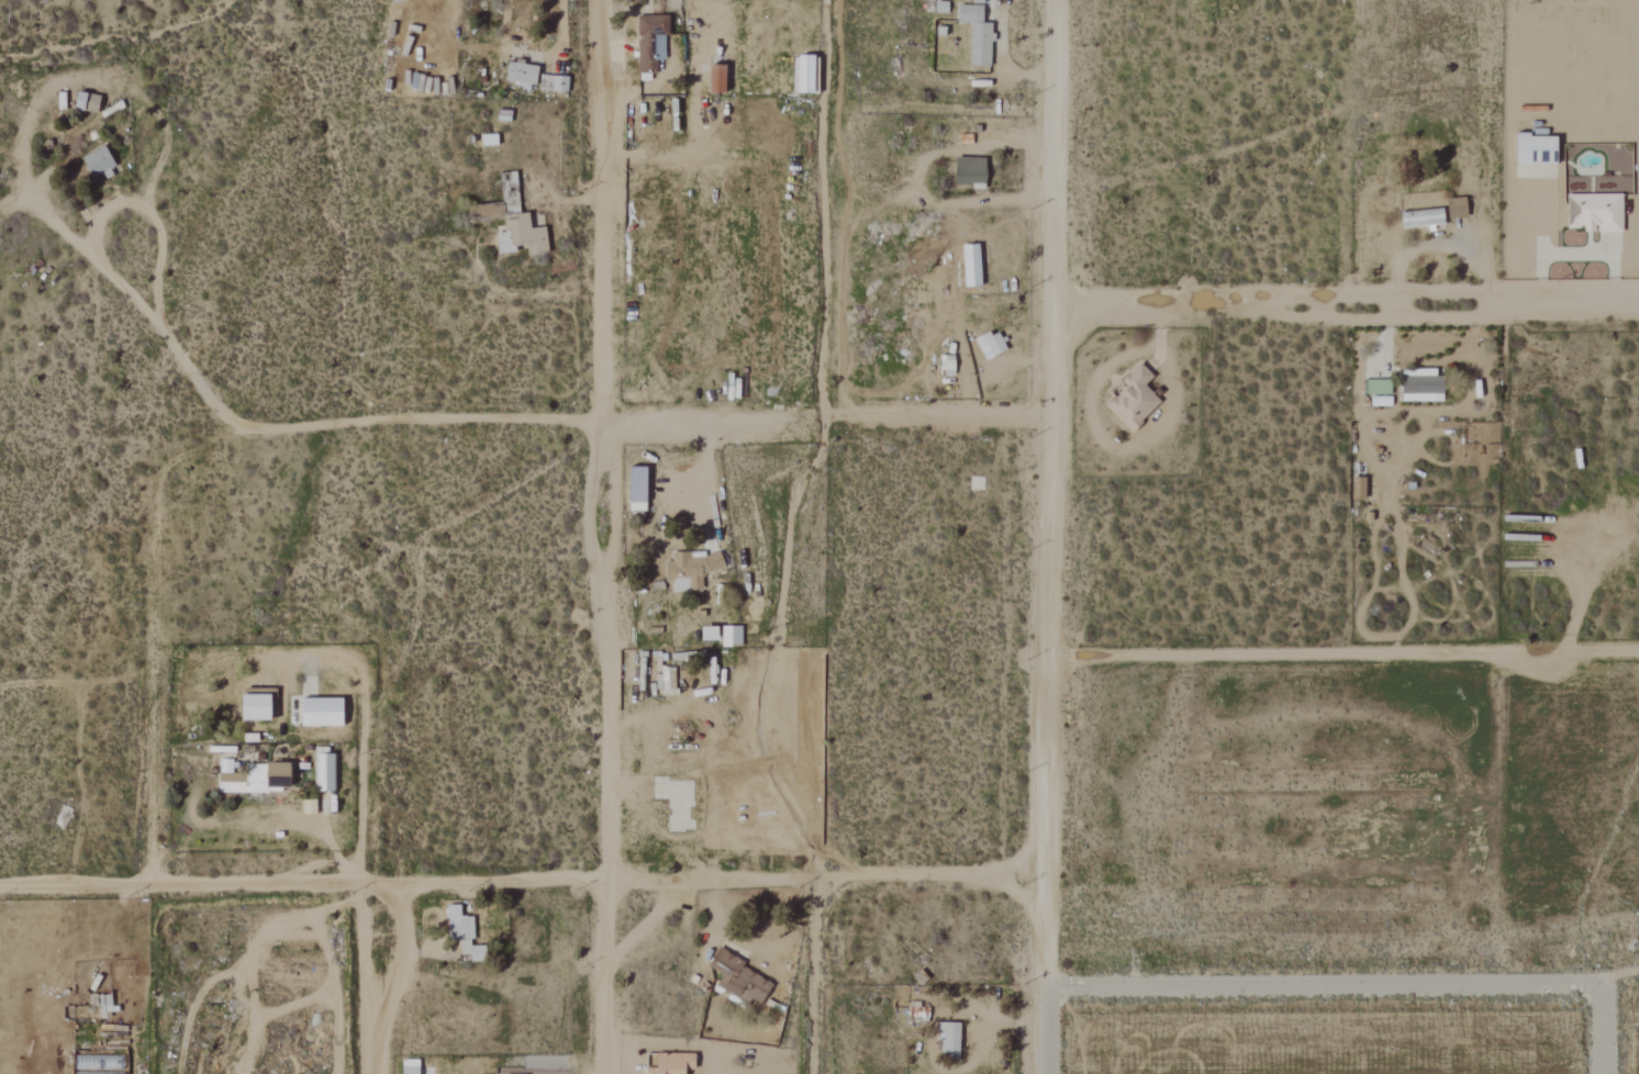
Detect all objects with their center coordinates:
building: (975, 35)
road: (537, 52)
road: (1006, 68)
building: (519, 75)
building: (804, 75)
building: (1532, 149)
building: (96, 161)
road: (114, 205)
road: (601, 210)
building: (1593, 212)
building: (1420, 219)
building: (522, 232)
road: (1435, 246)
road: (1579, 254)
building: (969, 265)
road: (1350, 291)
building: (1370, 368)
building: (1419, 387)
building: (1133, 399)
building: (1380, 402)
road: (578, 417)
road: (707, 471)
building: (634, 489)
road: (1050, 492)
building: (705, 634)
road: (152, 635)
building: (729, 637)
road: (1342, 656)
building: (317, 713)
road: (607, 747)
building: (323, 773)
building: (256, 779)
road: (323, 841)
road: (525, 881)
building: (459, 931)
road: (409, 952)
road: (813, 976)
road: (1620, 977)
road: (381, 978)
road: (1327, 984)
road: (1605, 1028)
road: (1049, 1030)
building: (948, 1040)
building: (670, 1063)

